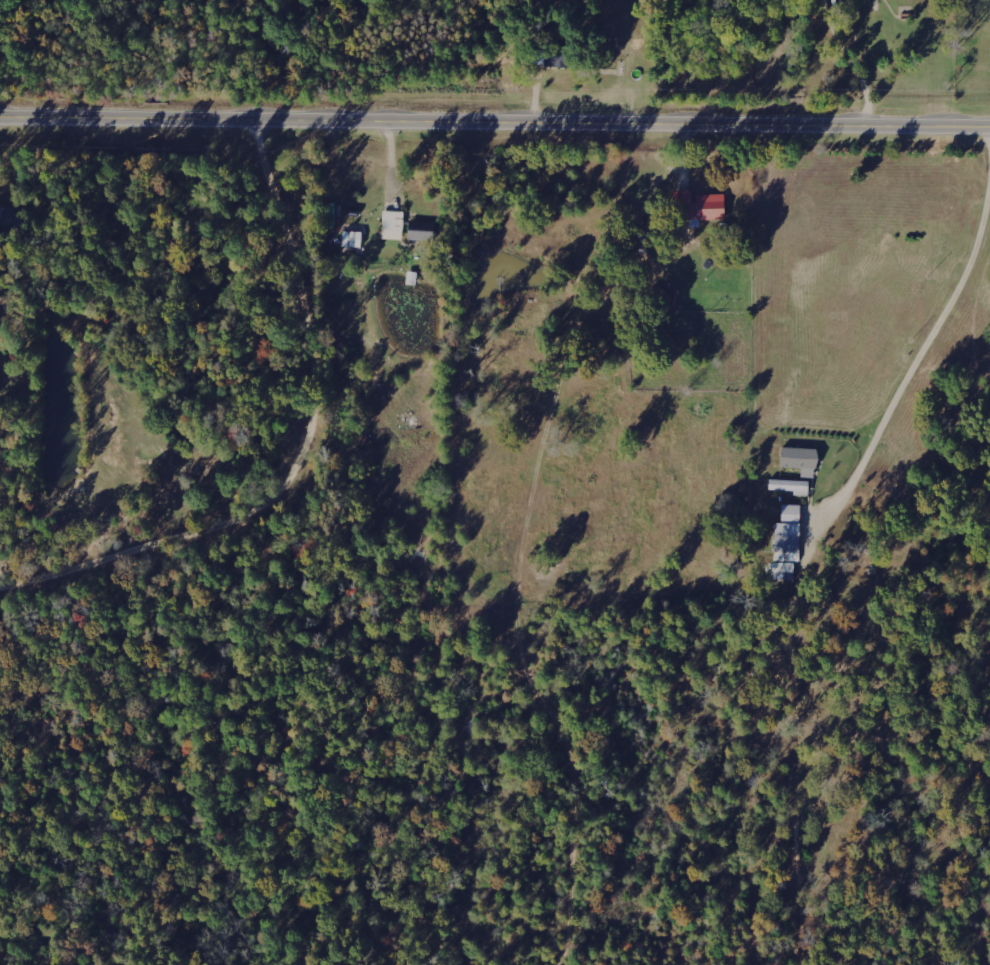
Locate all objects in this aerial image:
building: (553, 55)
road: (495, 120)
building: (699, 205)
building: (391, 224)
building: (419, 233)
building: (352, 238)
building: (668, 298)
building: (798, 459)
building: (786, 541)
road: (496, 650)

